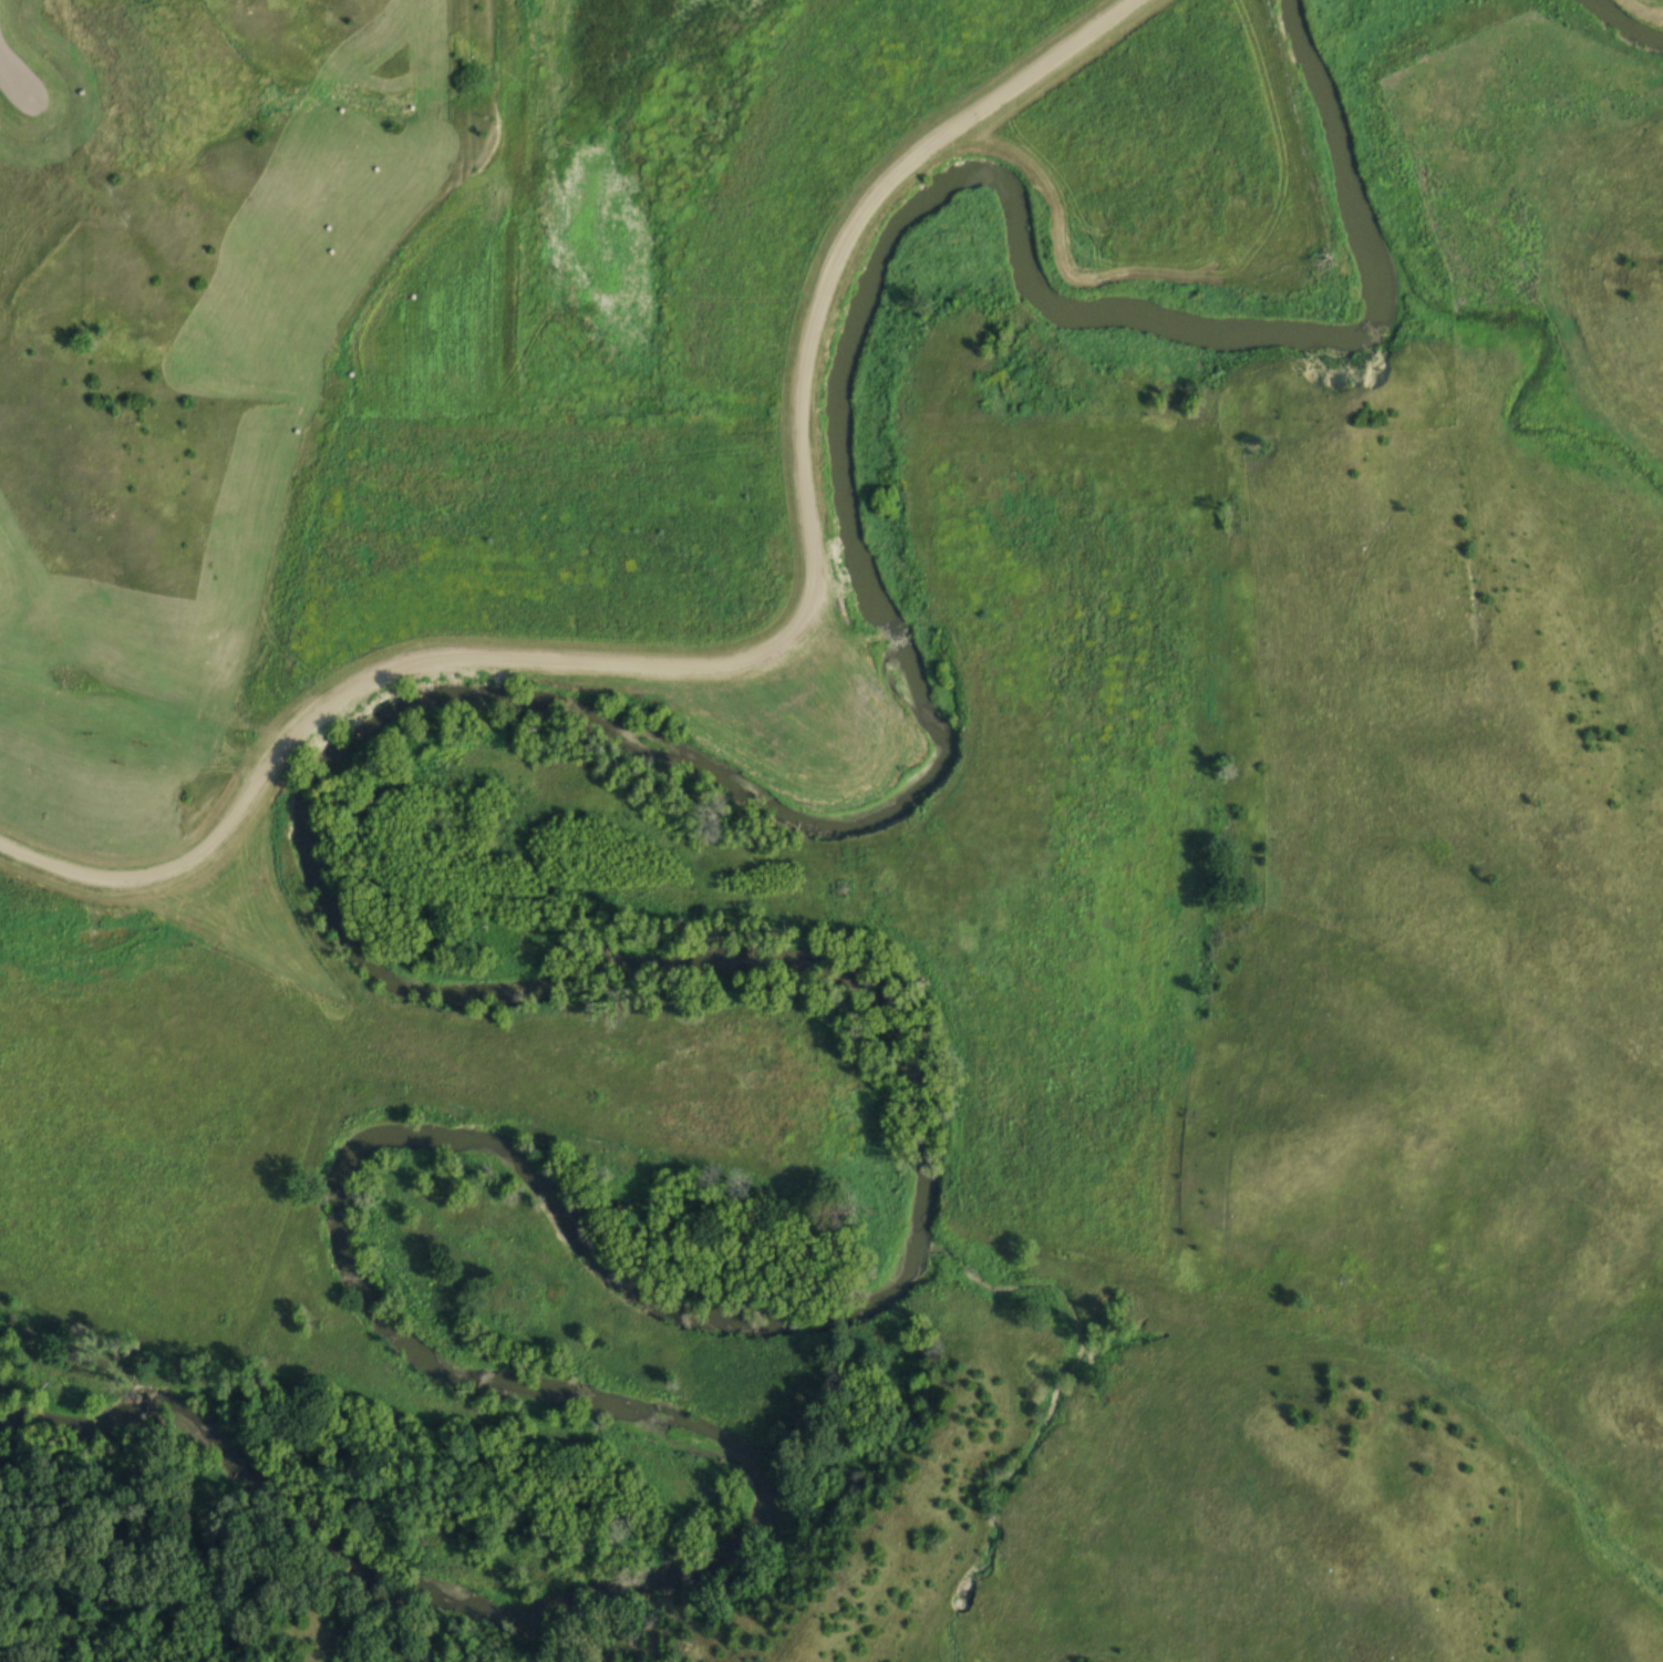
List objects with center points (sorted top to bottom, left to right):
river: (1631, 20)
road: (10, 74)
road: (755, 668)
river: (652, 956)

